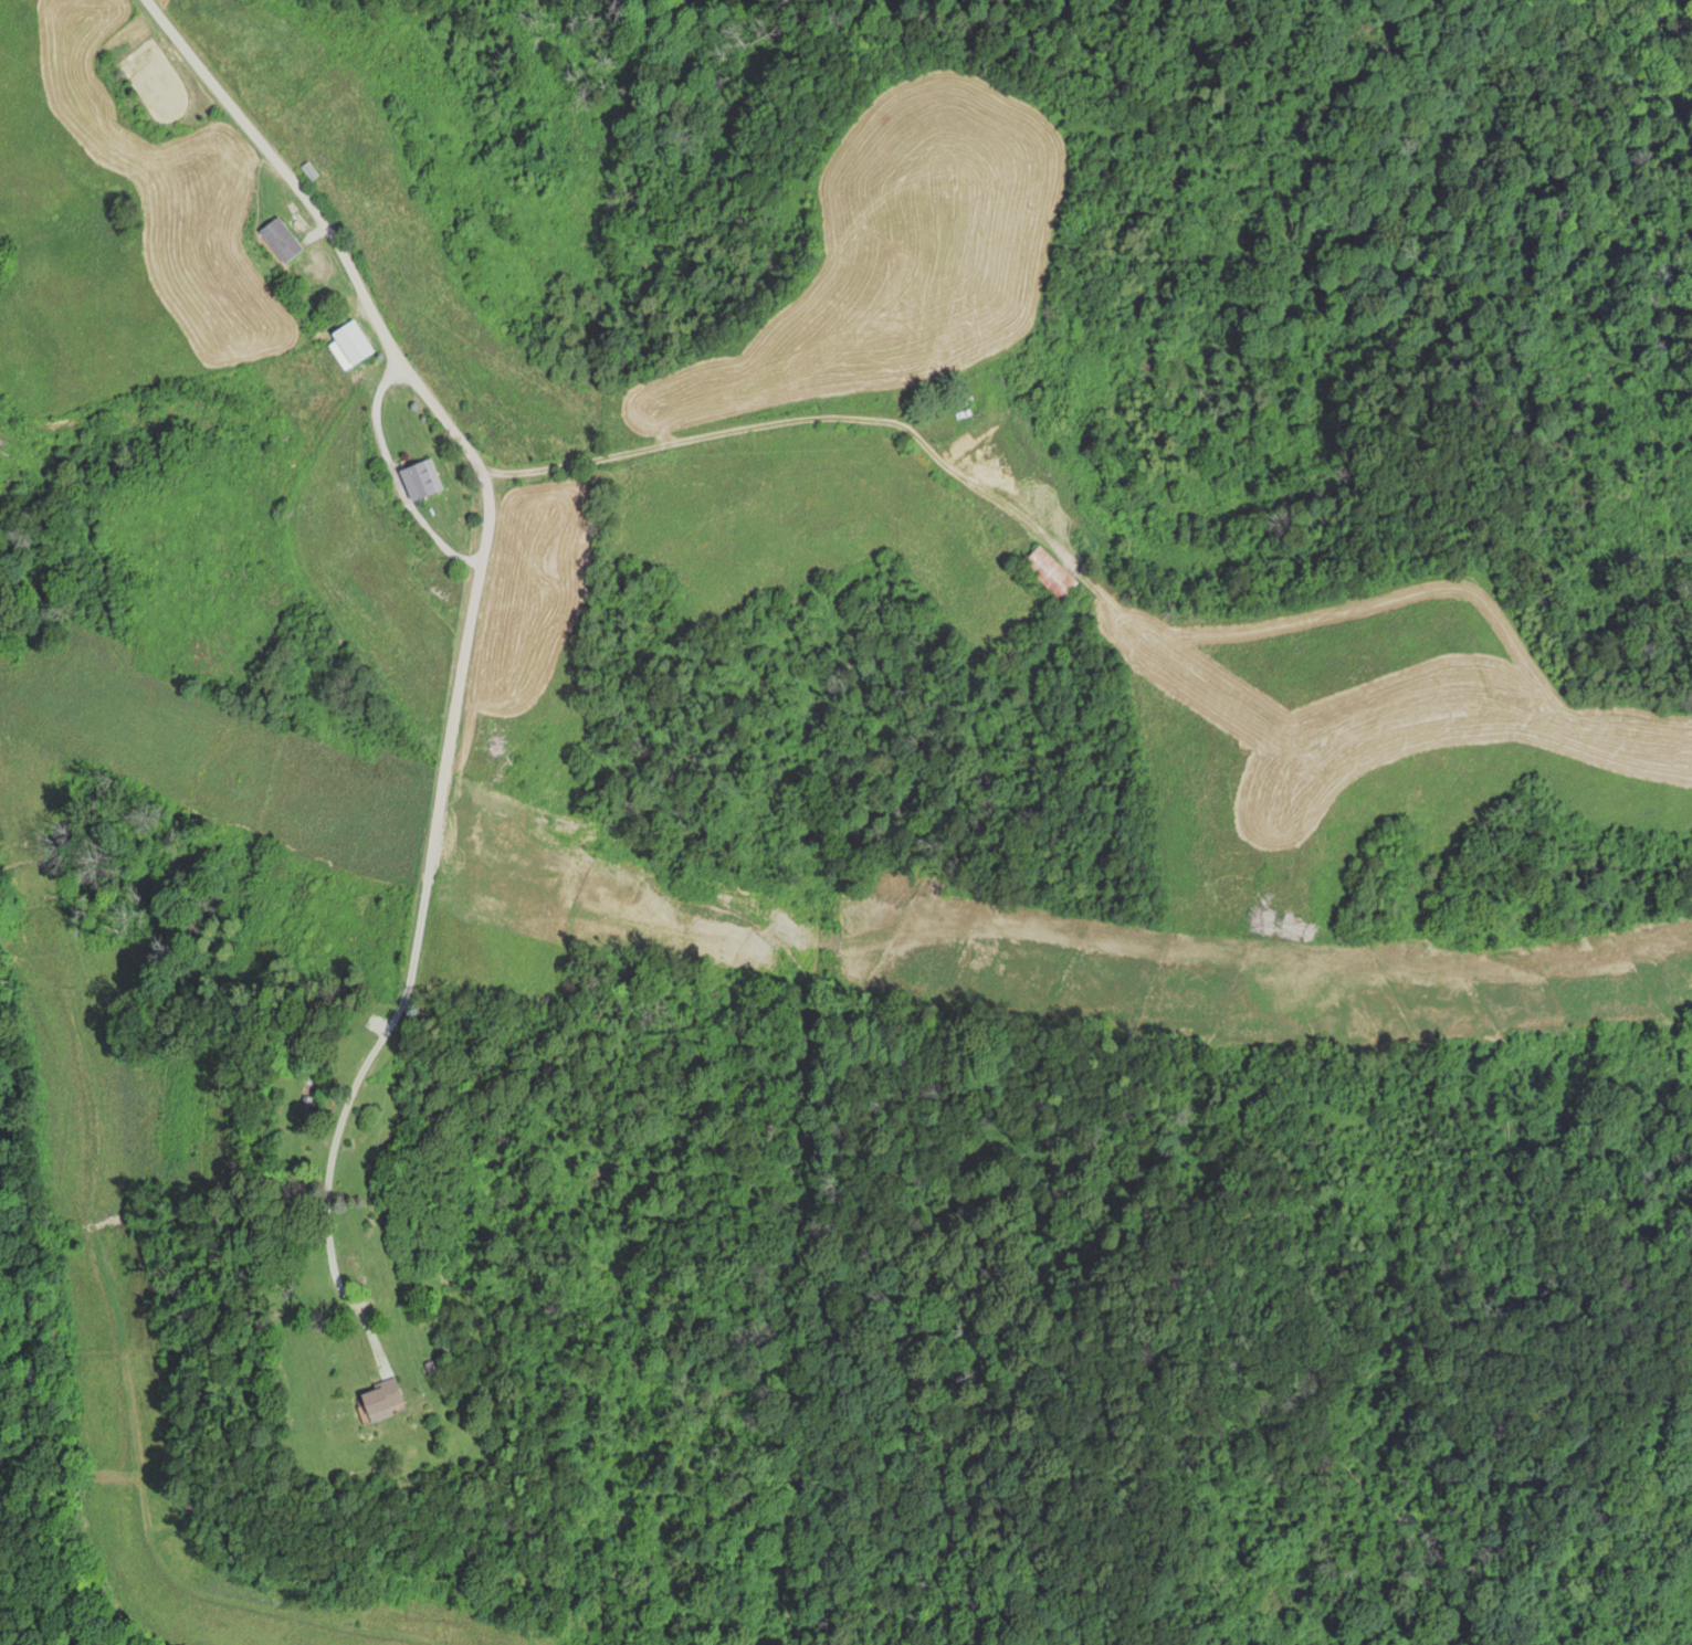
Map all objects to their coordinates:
road: (327, 224)
building: (279, 243)
building: (347, 347)
road: (391, 476)
building: (416, 484)
building: (1048, 574)
road: (1027, 625)
road: (419, 925)
building: (349, 1266)

